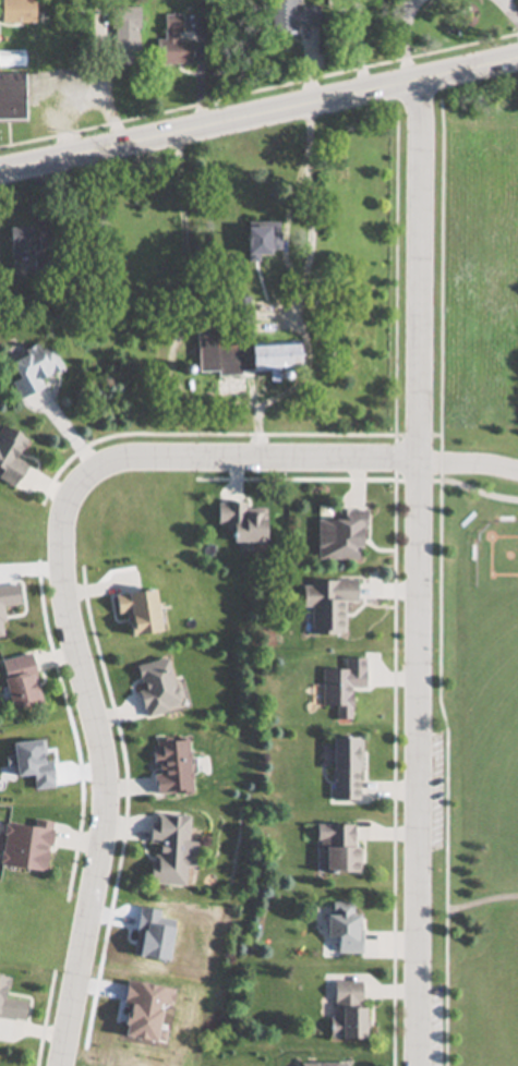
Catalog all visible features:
building: (15, 12)
road: (509, 13)
building: (288, 16)
building: (171, 44)
road: (407, 44)
building: (120, 47)
road: (360, 48)
building: (11, 86)
road: (83, 98)
road: (258, 117)
road: (310, 191)
building: (257, 238)
building: (22, 243)
building: (270, 356)
building: (32, 368)
building: (9, 457)
road: (469, 463)
building: (239, 523)
building: (339, 536)
road: (417, 574)
road: (62, 602)
building: (326, 604)
building: (134, 611)
building: (16, 682)
building: (341, 687)
building: (153, 688)
park: (478, 747)
building: (168, 766)
building: (344, 768)
building: (24, 847)
building: (335, 848)
building: (166, 850)
building: (341, 928)
building: (10, 1005)
building: (344, 1010)
building: (321, 1064)

